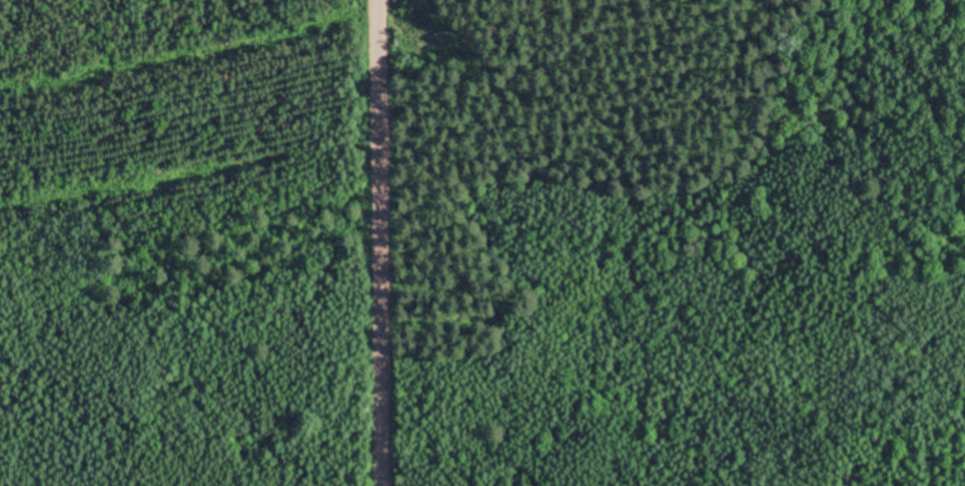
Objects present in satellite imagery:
road: (386, 242)

